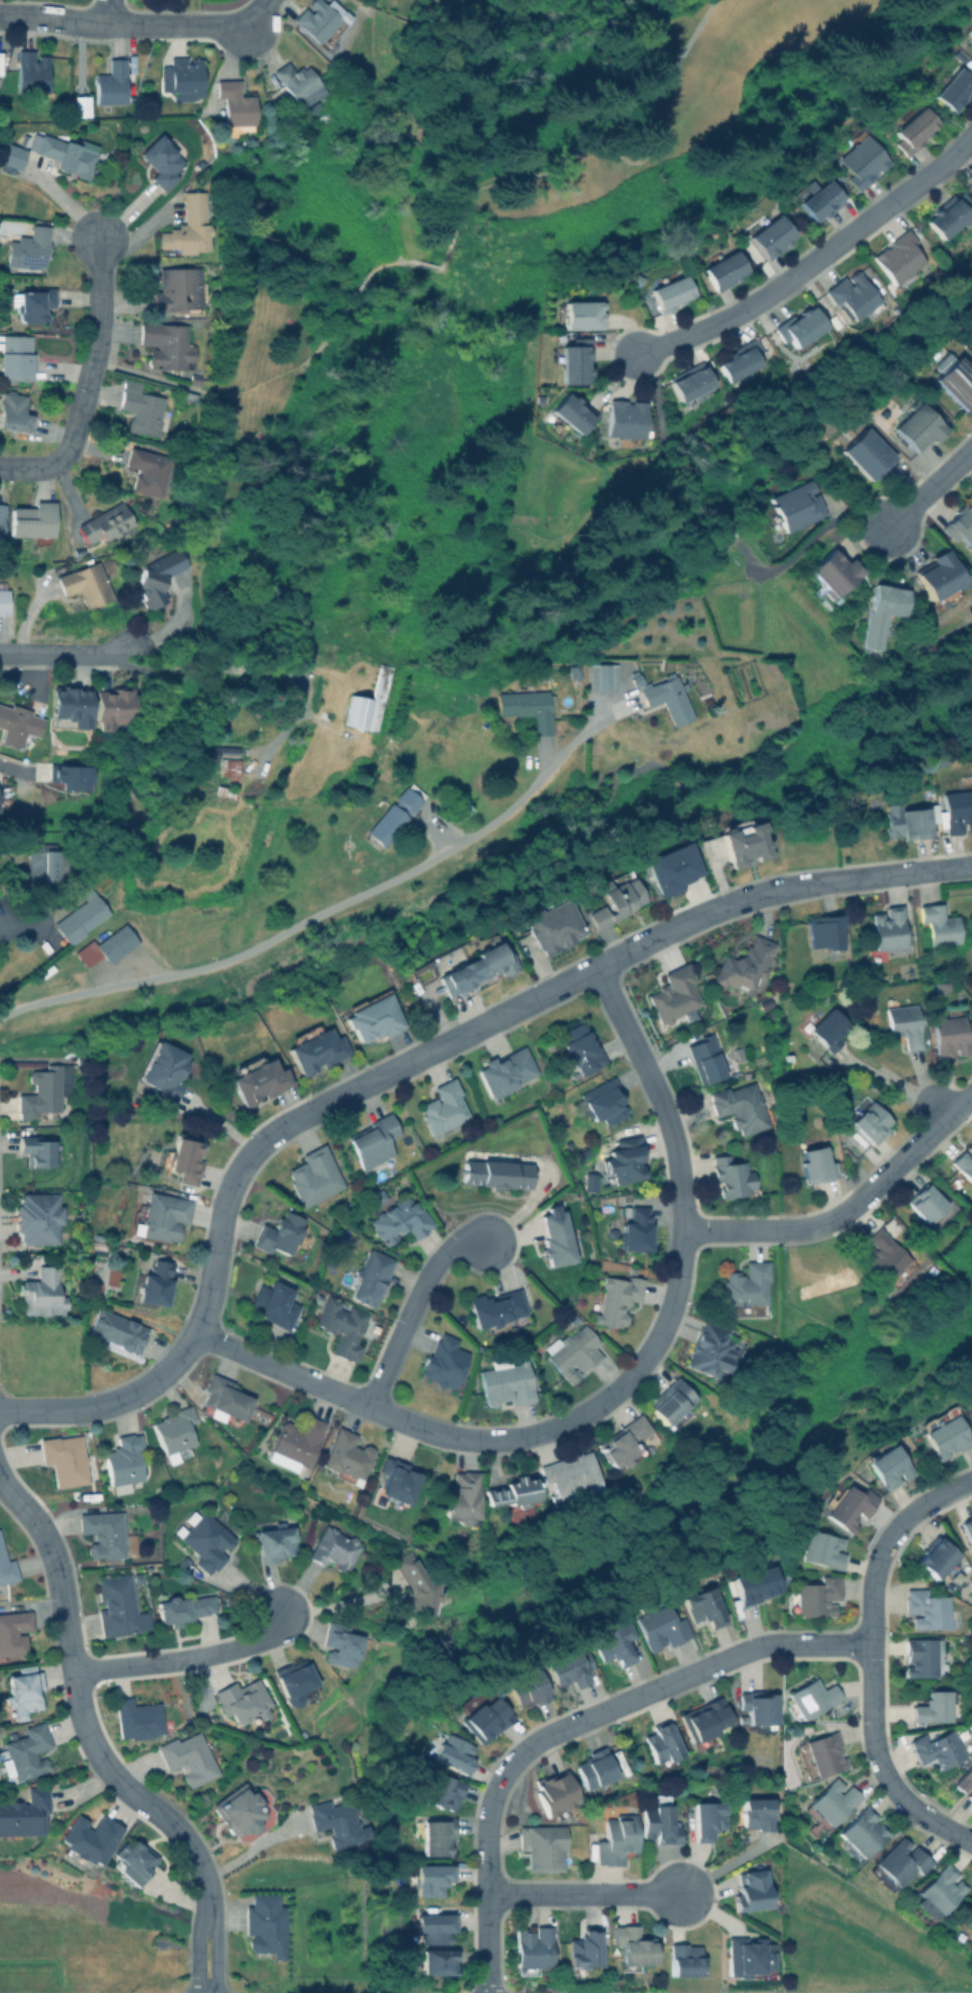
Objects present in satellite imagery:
road: (109, 12)
road: (255, 12)
building: (320, 20)
park: (765, 23)
road: (121, 24)
building: (969, 30)
building: (971, 44)
building: (957, 54)
building: (31, 70)
building: (182, 76)
building: (110, 82)
building: (299, 82)
building: (951, 88)
building: (80, 104)
building: (236, 106)
building: (908, 129)
building: (65, 151)
building: (11, 156)
building: (161, 159)
building: (865, 160)
building: (817, 199)
building: (944, 217)
building: (186, 227)
building: (771, 235)
road: (479, 236)
building: (28, 247)
building: (899, 259)
road: (815, 261)
building: (724, 269)
building: (178, 289)
building: (669, 291)
building: (855, 294)
building: (32, 303)
building: (580, 313)
building: (800, 327)
building: (970, 332)
building: (166, 344)
road: (95, 347)
building: (15, 357)
building: (573, 359)
building: (739, 360)
building: (194, 378)
road: (151, 380)
building: (691, 380)
building: (953, 380)
building: (188, 396)
building: (140, 407)
building: (14, 411)
building: (573, 411)
park: (308, 413)
building: (628, 420)
building: (914, 426)
building: (867, 452)
road: (35, 467)
building: (148, 471)
road: (929, 487)
building: (798, 505)
building: (33, 519)
building: (2, 520)
building: (106, 523)
building: (958, 525)
building: (835, 573)
building: (154, 578)
building: (937, 579)
building: (85, 584)
building: (3, 599)
building: (882, 611)
road: (65, 654)
building: (899, 656)
road: (249, 670)
building: (603, 675)
building: (636, 677)
building: (669, 699)
building: (71, 706)
building: (115, 707)
building: (529, 708)
building: (359, 710)
building: (17, 725)
building: (212, 750)
building: (936, 758)
building: (230, 767)
road: (6, 768)
building: (71, 773)
building: (225, 790)
building: (955, 806)
building: (395, 813)
building: (904, 819)
building: (748, 841)
building: (47, 863)
building: (673, 869)
road: (843, 879)
building: (619, 897)
building: (81, 916)
road: (308, 921)
road: (689, 921)
building: (556, 924)
building: (936, 924)
building: (826, 929)
building: (886, 931)
road: (17, 932)
building: (107, 945)
building: (747, 964)
building: (480, 965)
building: (935, 985)
building: (676, 996)
building: (766, 1002)
building: (374, 1017)
building: (906, 1023)
building: (831, 1026)
building: (946, 1036)
building: (315, 1046)
building: (582, 1046)
building: (740, 1051)
building: (76, 1056)
building: (707, 1057)
building: (759, 1059)
building: (164, 1068)
building: (506, 1070)
building: (257, 1077)
road: (899, 1087)
building: (44, 1090)
road: (334, 1099)
building: (605, 1100)
building: (743, 1105)
building: (445, 1109)
building: (870, 1117)
building: (375, 1141)
building: (37, 1149)
building: (582, 1153)
building: (184, 1156)
building: (627, 1158)
building: (817, 1163)
building: (962, 1163)
building: (498, 1172)
building: (315, 1174)
building: (734, 1176)
building: (590, 1180)
building: (931, 1205)
road: (849, 1212)
building: (160, 1215)
building: (397, 1215)
building: (37, 1217)
building: (638, 1229)
building: (610, 1233)
building: (282, 1234)
building: (557, 1235)
building: (888, 1256)
building: (369, 1277)
building: (151, 1284)
building: (747, 1289)
building: (42, 1292)
building: (618, 1298)
building: (276, 1301)
road: (414, 1309)
building: (498, 1311)
building: (342, 1326)
building: (117, 1332)
building: (715, 1350)
building: (573, 1351)
building: (446, 1362)
building: (507, 1381)
road: (621, 1388)
building: (224, 1400)
building: (674, 1402)
road: (77, 1409)
building: (947, 1432)
building: (175, 1433)
building: (627, 1440)
building: (294, 1442)
building: (347, 1456)
building: (65, 1459)
building: (124, 1462)
building: (888, 1464)
building: (572, 1471)
building: (925, 1472)
building: (396, 1481)
building: (463, 1496)
building: (516, 1497)
building: (848, 1505)
building: (969, 1526)
building: (109, 1533)
building: (204, 1539)
building: (275, 1541)
building: (336, 1548)
building: (824, 1548)
building: (937, 1556)
building: (6, 1568)
building: (410, 1583)
building: (757, 1583)
building: (819, 1596)
road: (337, 1603)
building: (119, 1607)
building: (182, 1607)
building: (706, 1607)
building: (929, 1608)
building: (663, 1627)
building: (13, 1632)
building: (617, 1641)
building: (343, 1644)
building: (925, 1656)
road: (183, 1658)
road: (872, 1660)
building: (571, 1668)
building: (296, 1681)
building: (531, 1688)
building: (22, 1691)
building: (811, 1698)
building: (245, 1701)
building: (938, 1707)
building: (760, 1708)
building: (486, 1718)
building: (137, 1719)
building: (706, 1721)
road: (576, 1723)
building: (664, 1745)
road: (94, 1747)
building: (939, 1748)
building: (25, 1752)
building: (451, 1752)
building: (821, 1755)
building: (191, 1757)
building: (597, 1770)
building: (965, 1779)
building: (445, 1791)
building: (557, 1793)
building: (970, 1794)
building: (830, 1804)
building: (244, 1811)
building: (758, 1813)
building: (25, 1814)
building: (709, 1819)
building: (662, 1821)
building: (336, 1822)
building: (864, 1834)
building: (439, 1837)
building: (618, 1837)
building: (89, 1843)
road: (254, 1847)
building: (543, 1847)
building: (937, 1852)
building: (133, 1861)
building: (900, 1862)
building: (428, 1879)
building: (753, 1891)
building: (942, 1891)
road: (584, 1894)
building: (969, 1912)
building: (265, 1924)
building: (436, 1928)
building: (632, 1948)
building: (532, 1950)
building: (585, 1951)
building: (751, 1958)
building: (684, 1961)
building: (438, 1963)

